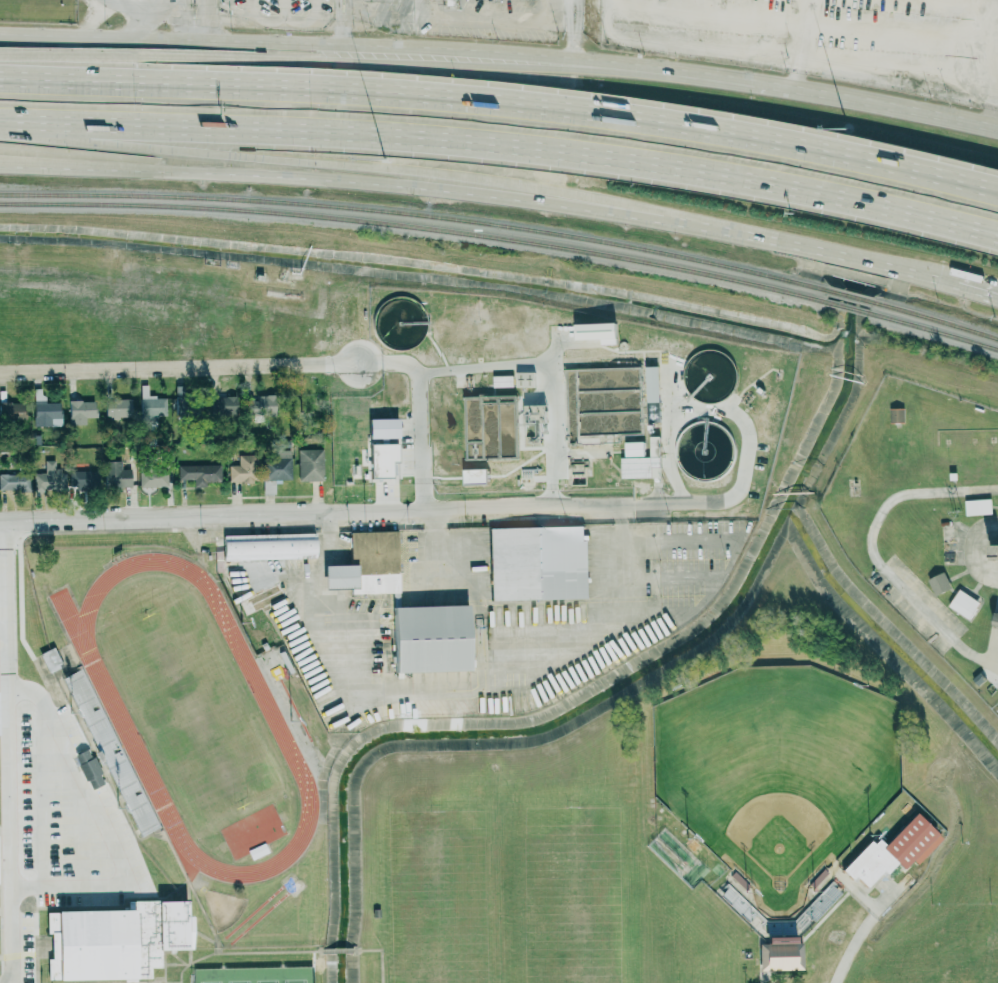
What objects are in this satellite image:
road: (250, 7)
road: (339, 10)
road: (348, 10)
road: (285, 11)
road: (315, 11)
parking lot: (403, 19)
road: (205, 22)
road: (282, 22)
road: (573, 33)
road: (342, 36)
road: (171, 41)
road: (572, 49)
road: (170, 54)
road: (671, 76)
road: (503, 106)
road: (503, 146)
road: (317, 161)
road: (317, 177)
railway: (418, 215)
railway: (416, 227)
road: (796, 243)
road: (978, 290)
railway: (852, 295)
railway: (851, 307)
building: (348, 316)
railway: (936, 318)
railway: (936, 330)
building: (597, 331)
road: (548, 367)
road: (207, 368)
building: (525, 379)
building: (503, 381)
building: (652, 383)
wastewater plant: (573, 394)
building: (221, 403)
building: (150, 406)
building: (117, 408)
building: (43, 409)
building: (12, 410)
building: (80, 411)
building: (897, 414)
building: (534, 424)
building: (383, 427)
road: (419, 438)
building: (382, 458)
building: (643, 463)
building: (310, 464)
building: (243, 469)
building: (276, 470)
building: (200, 473)
building: (116, 475)
building: (153, 477)
building: (49, 478)
building: (85, 480)
building: (15, 481)
building: (477, 481)
building: (978, 507)
road: (362, 510)
building: (268, 546)
road: (874, 553)
building: (537, 563)
building: (367, 564)
building: (939, 583)
road: (470, 591)
building: (964, 603)
building: (996, 617)
building: (430, 638)
building: (50, 659)
road: (460, 683)
track: (119, 713)
building: (106, 750)
road: (8, 753)
park: (777, 770)
stadium: (784, 796)
building: (892, 850)
road: (862, 894)
building: (820, 905)
road: (861, 933)
building: (115, 940)
building: (782, 955)
park: (255, 974)

